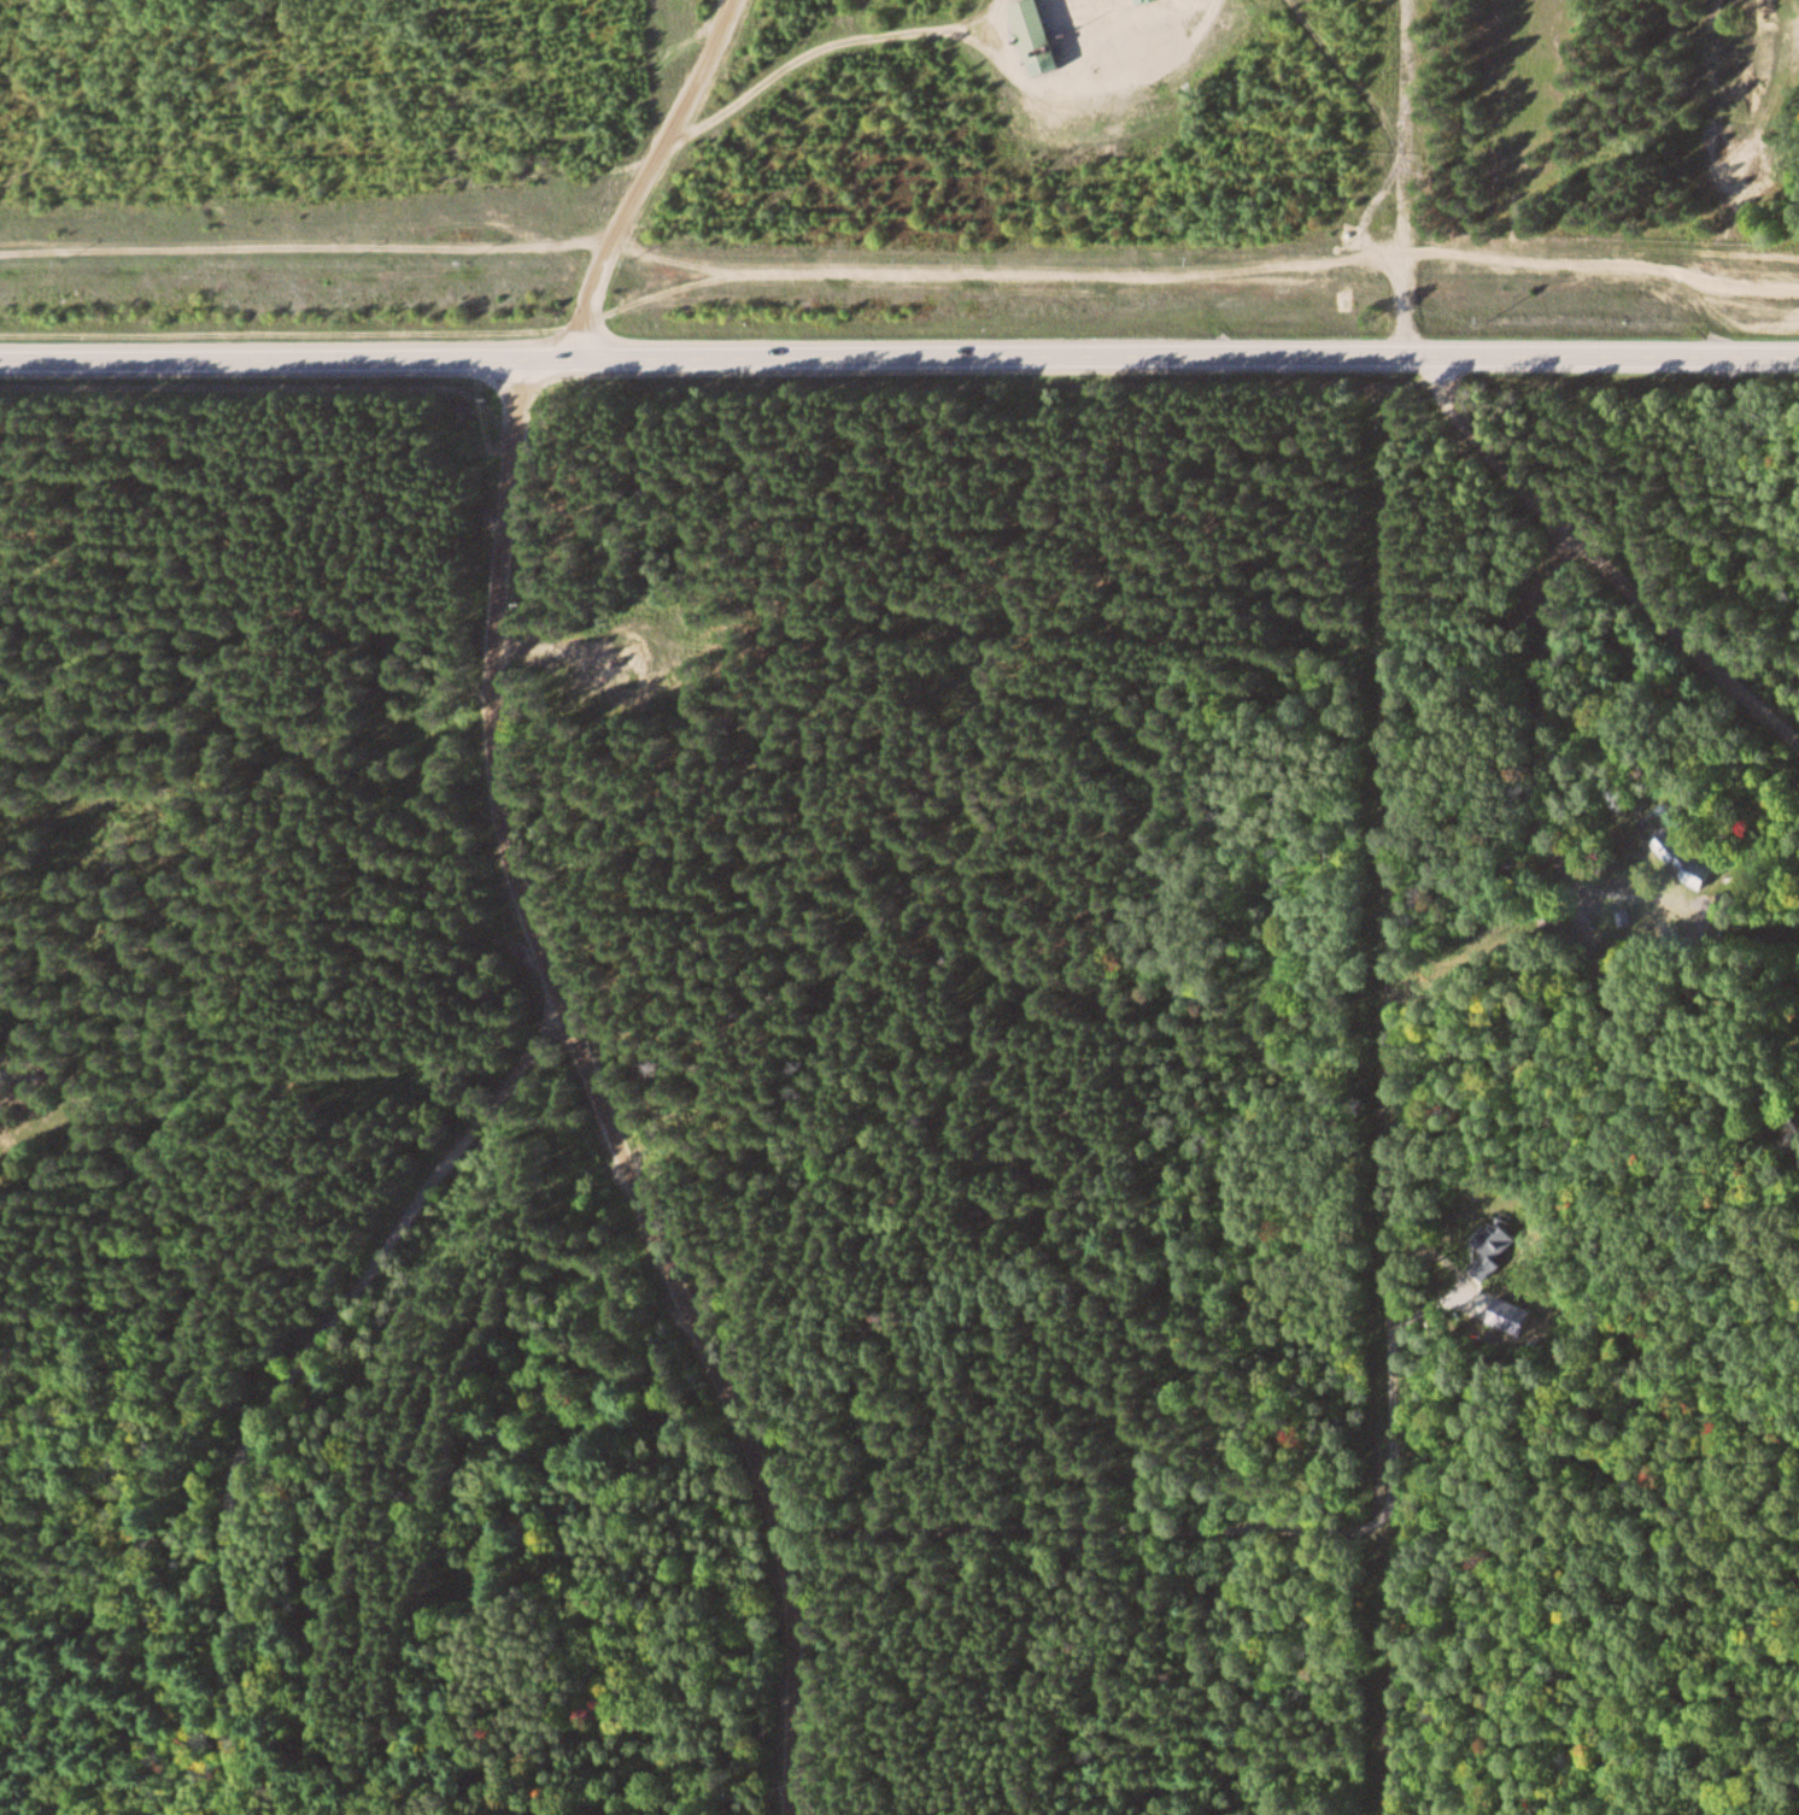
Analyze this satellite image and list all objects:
road: (1196, 4)
road: (1209, 4)
building: (1041, 35)
road: (1143, 70)
road: (1404, 181)
road: (1367, 207)
road: (306, 247)
road: (1206, 276)
road: (900, 362)
road: (1598, 560)
petroleum well: (614, 660)
building: (1693, 858)
road: (527, 898)
road: (1397, 1255)
road: (299, 1378)

